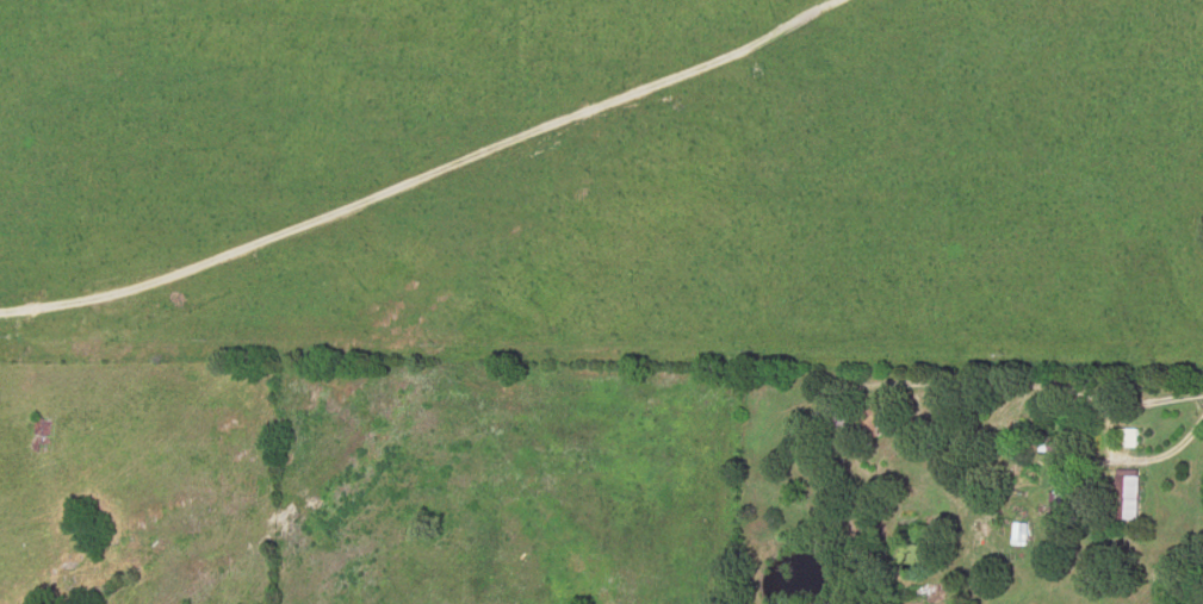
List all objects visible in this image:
road: (1103, 438)
building: (1021, 534)

